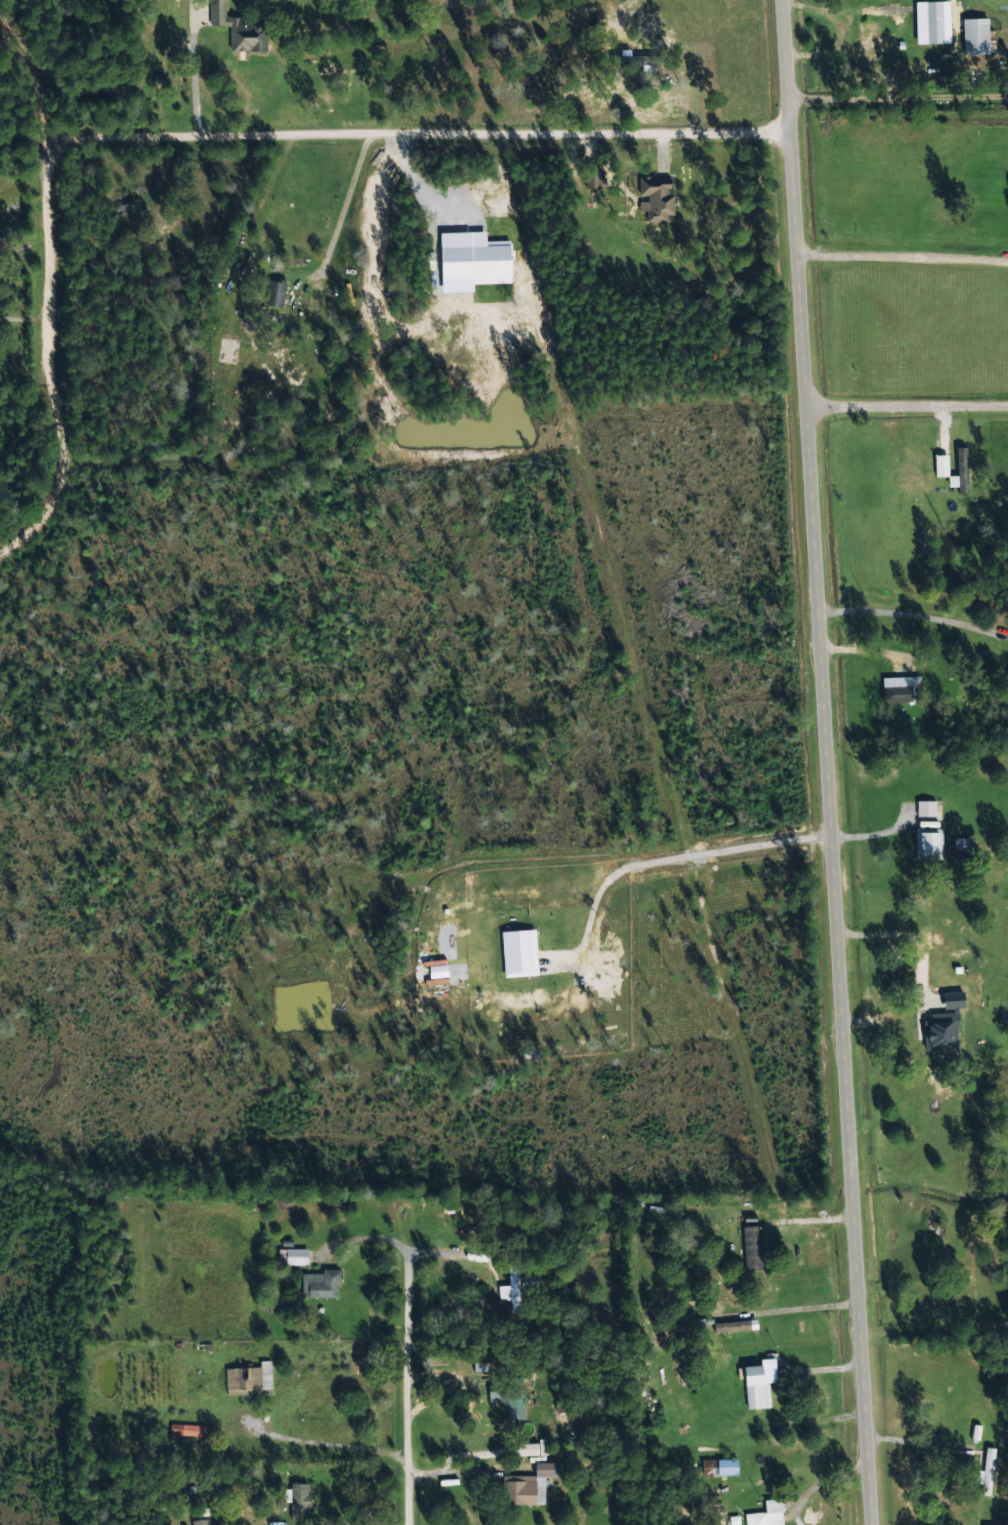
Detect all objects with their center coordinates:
building: (237, 30)
building: (973, 38)
building: (868, 44)
road: (20, 132)
road: (414, 135)
building: (590, 179)
building: (655, 199)
building: (1, 248)
road: (46, 258)
building: (273, 295)
building: (231, 350)
road: (908, 409)
building: (898, 691)
road: (826, 762)
building: (927, 845)
building: (955, 951)
building: (919, 1047)
building: (750, 1249)
building: (291, 1257)
building: (528, 1282)
building: (318, 1285)
building: (690, 1295)
building: (732, 1327)
building: (248, 1380)
building: (752, 1388)
building: (511, 1392)
road: (640, 1403)
building: (186, 1431)
building: (718, 1468)
road: (417, 1472)
building: (985, 1473)
building: (519, 1491)
building: (298, 1502)
road: (375, 1510)
building: (767, 1514)
building: (200, 1522)

